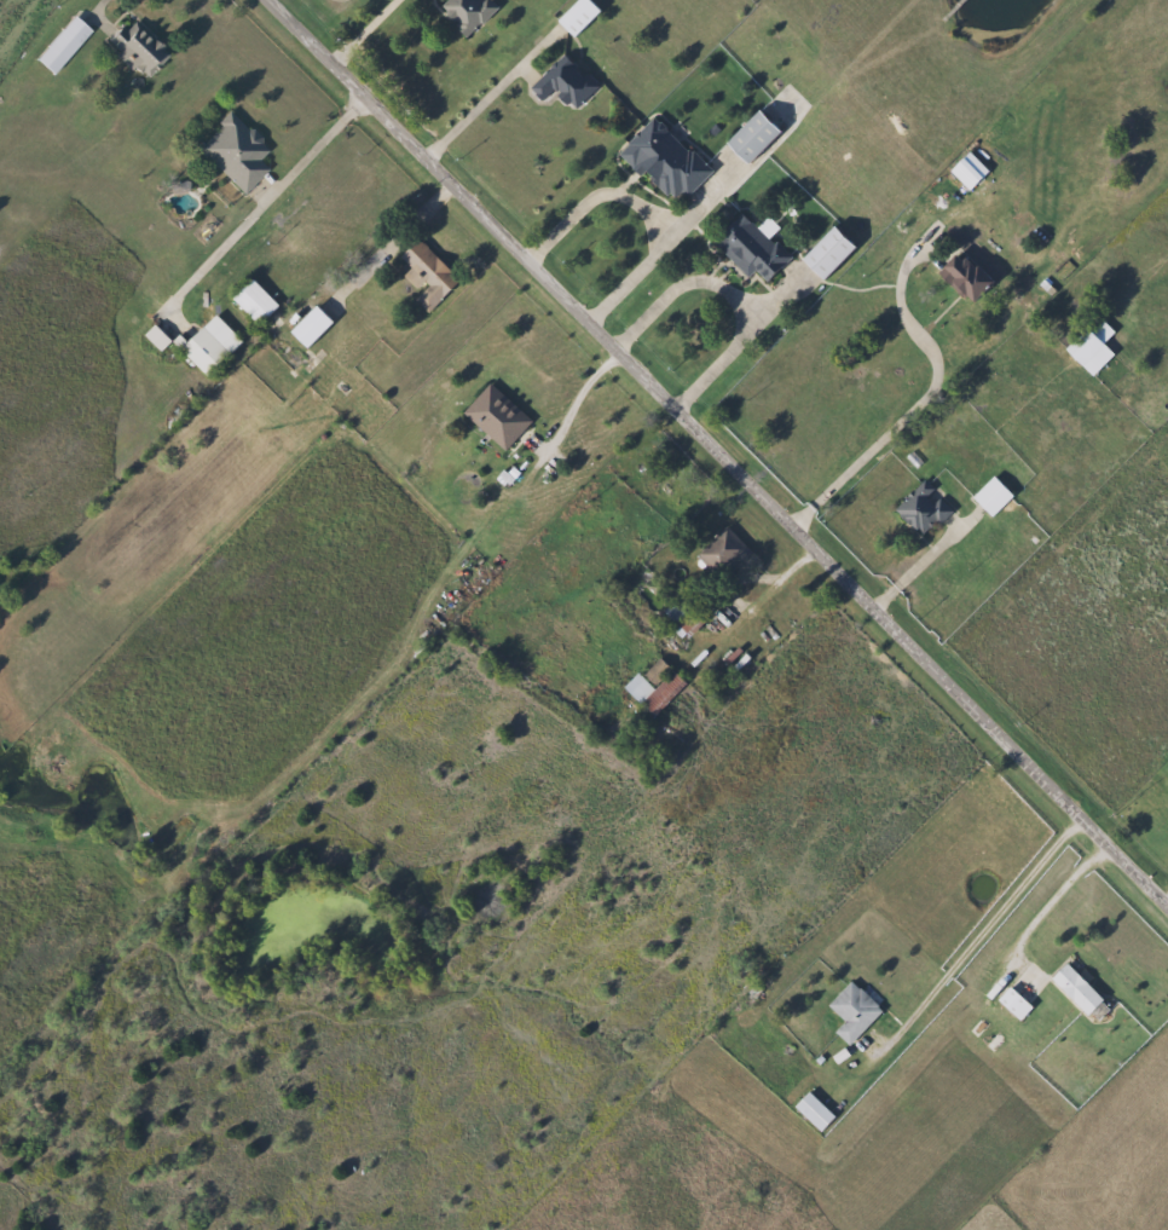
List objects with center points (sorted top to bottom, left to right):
road: (100, 6)
building: (464, 13)
building: (574, 16)
road: (365, 30)
building: (57, 45)
building: (137, 48)
building: (562, 82)
road: (492, 93)
building: (231, 152)
building: (661, 160)
building: (966, 171)
road: (643, 207)
road: (261, 210)
road: (400, 236)
building: (747, 248)
building: (822, 253)
building: (423, 273)
building: (964, 277)
road: (732, 293)
building: (251, 301)
building: (306, 327)
building: (154, 337)
building: (206, 345)
building: (1089, 348)
road: (577, 399)
building: (495, 416)
road: (881, 440)
road: (721, 452)
building: (990, 497)
building: (921, 509)
building: (719, 554)
road: (798, 565)
road: (919, 567)
road: (744, 611)
building: (652, 687)
road: (1166, 897)
road: (1050, 902)
road: (978, 940)
building: (1074, 989)
building: (1010, 1001)
building: (851, 1012)
building: (811, 1111)

